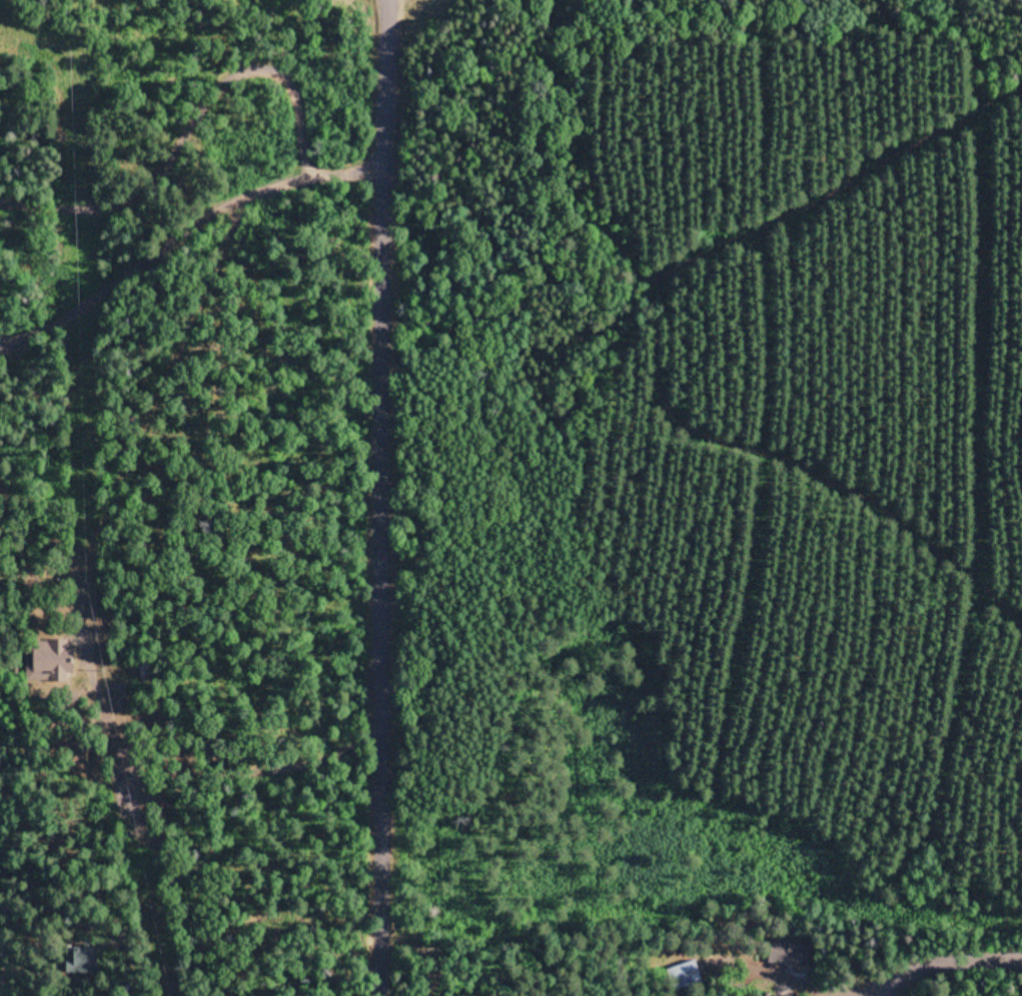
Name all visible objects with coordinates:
park: (186, 467)
road: (382, 498)
road: (80, 531)
building: (50, 650)
road: (946, 962)
building: (681, 973)

